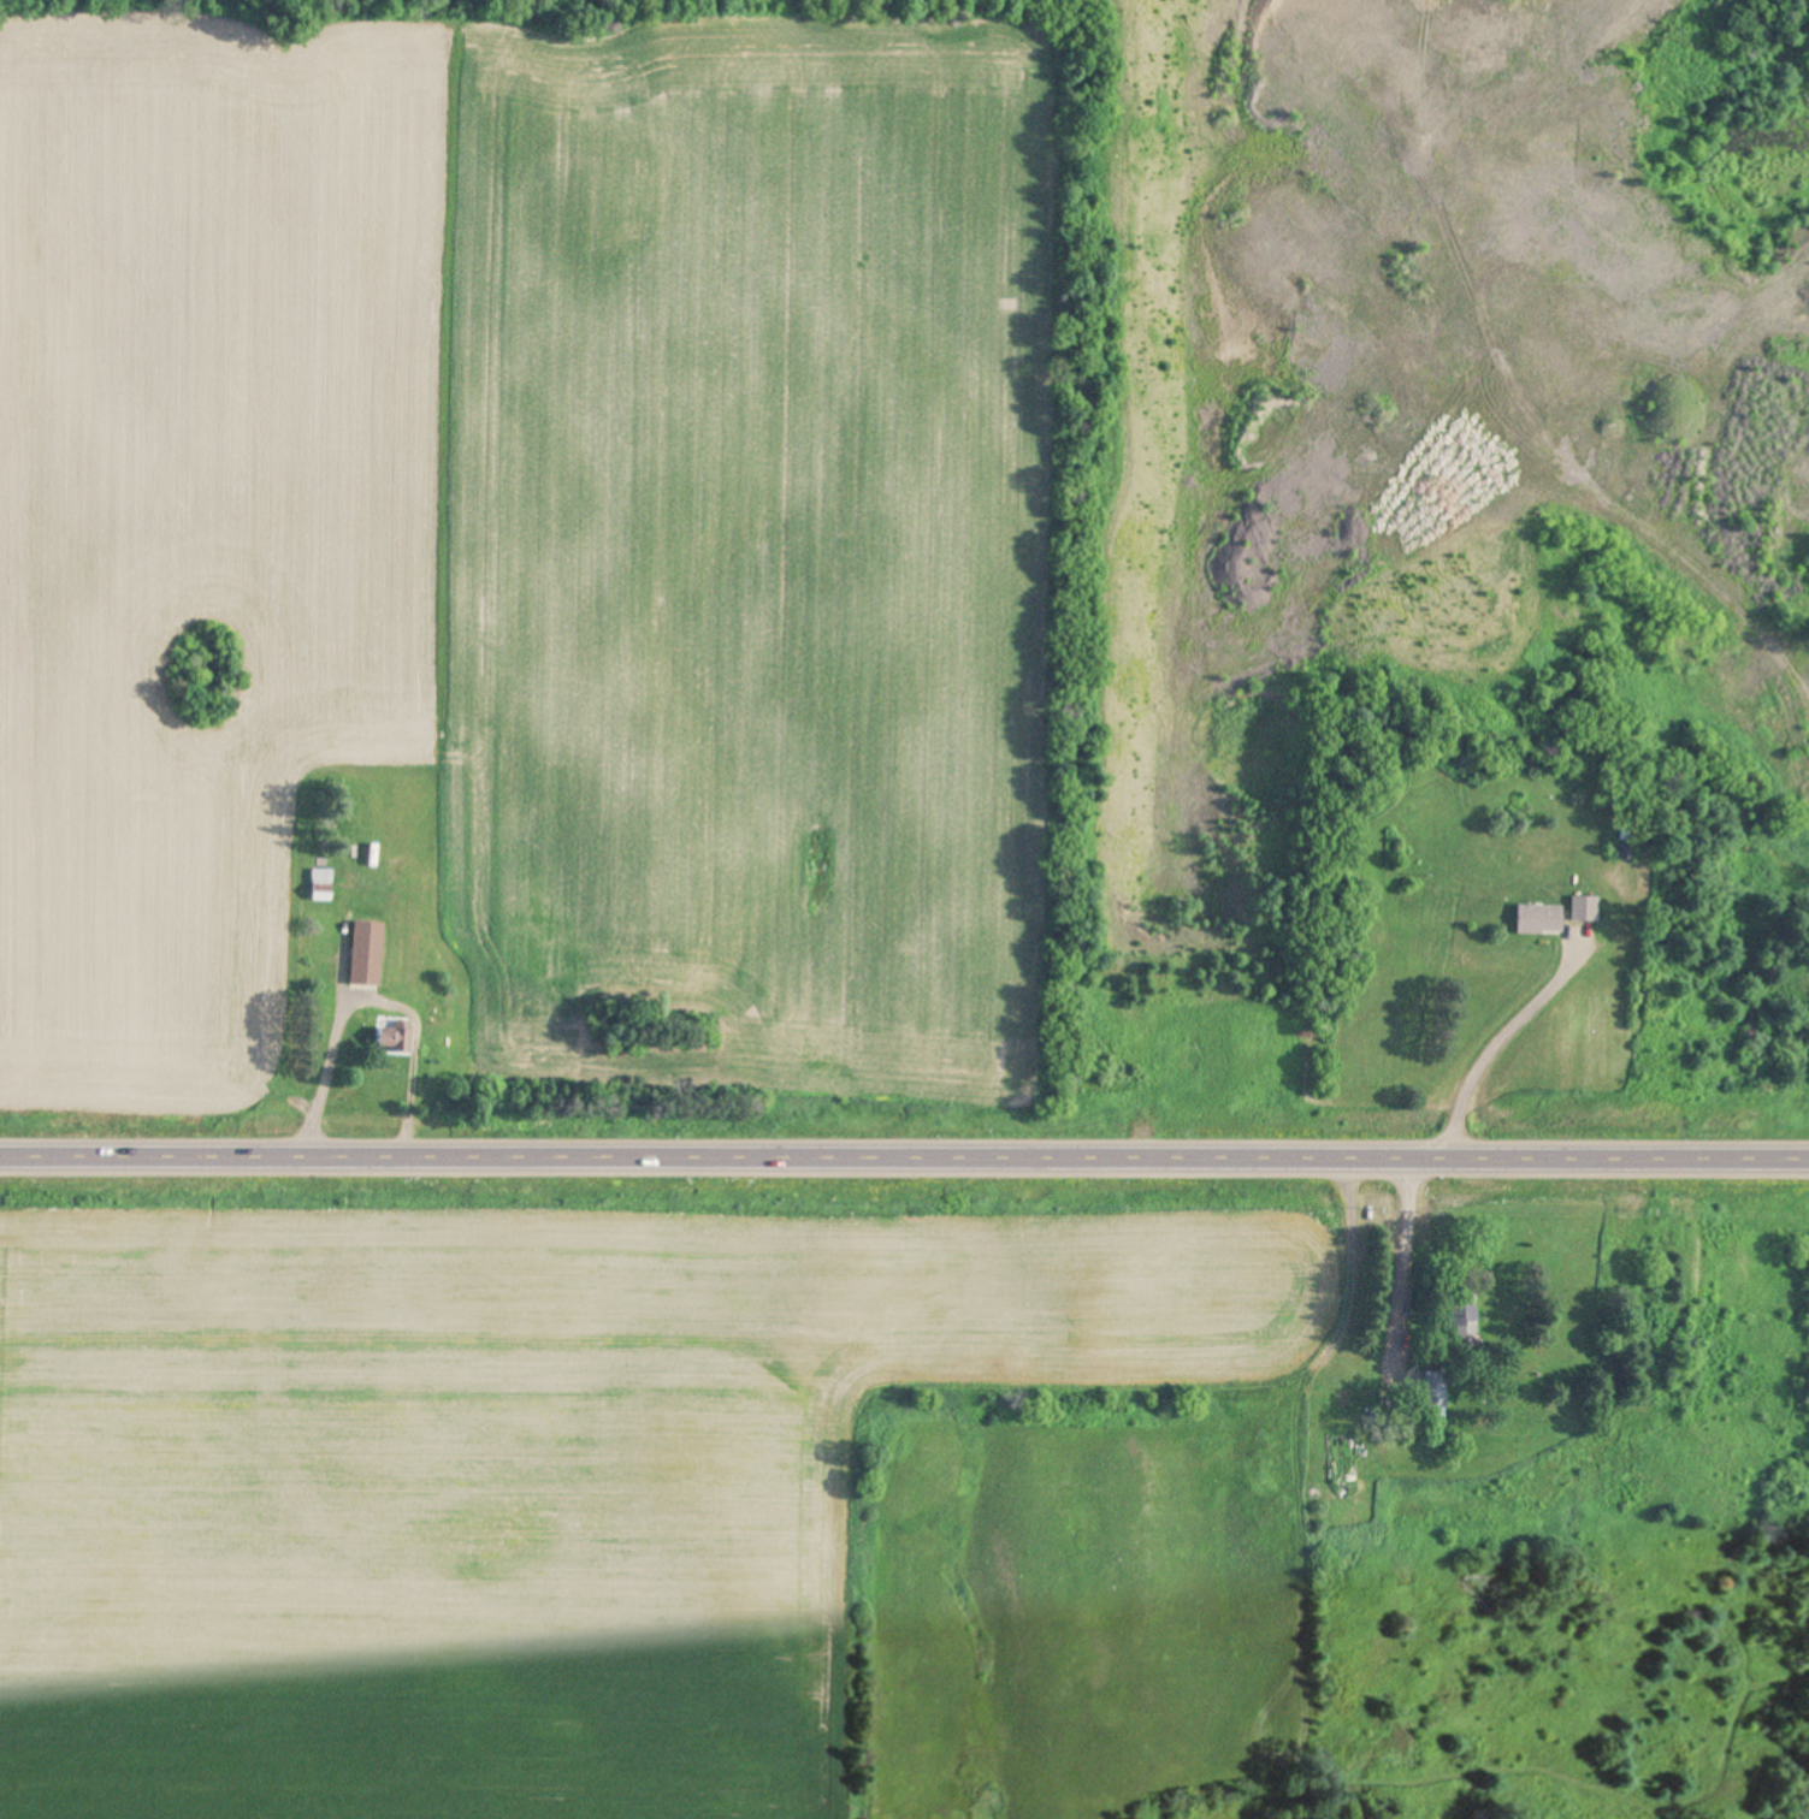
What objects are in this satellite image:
quarry: (495, 6)
quarry: (1448, 497)
crop: (562, 558)
building: (1628, 842)
building: (323, 885)
building: (1586, 908)
building: (1542, 919)
building: (368, 954)
building: (395, 1039)
road: (904, 1189)
building: (1466, 1315)
building: (1437, 1392)

